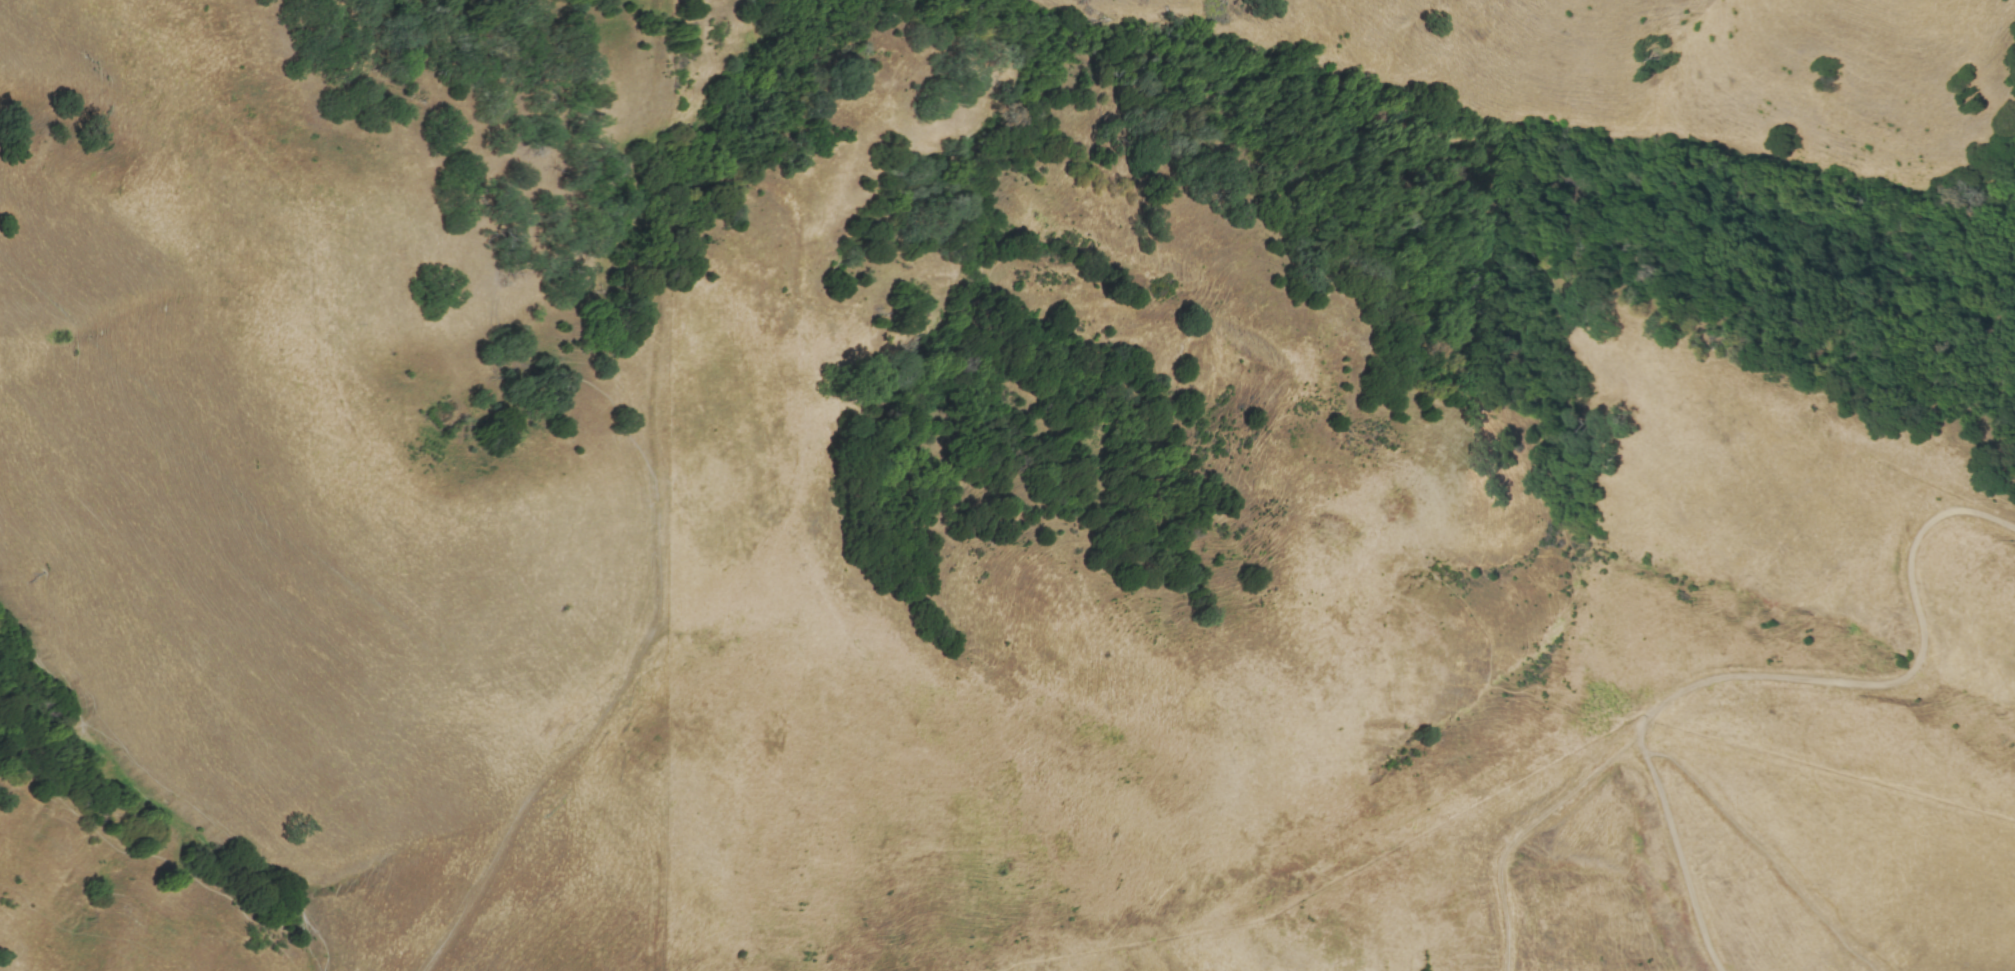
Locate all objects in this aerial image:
road: (1882, 681)
road: (1530, 824)
road: (1767, 854)
road: (1681, 864)

